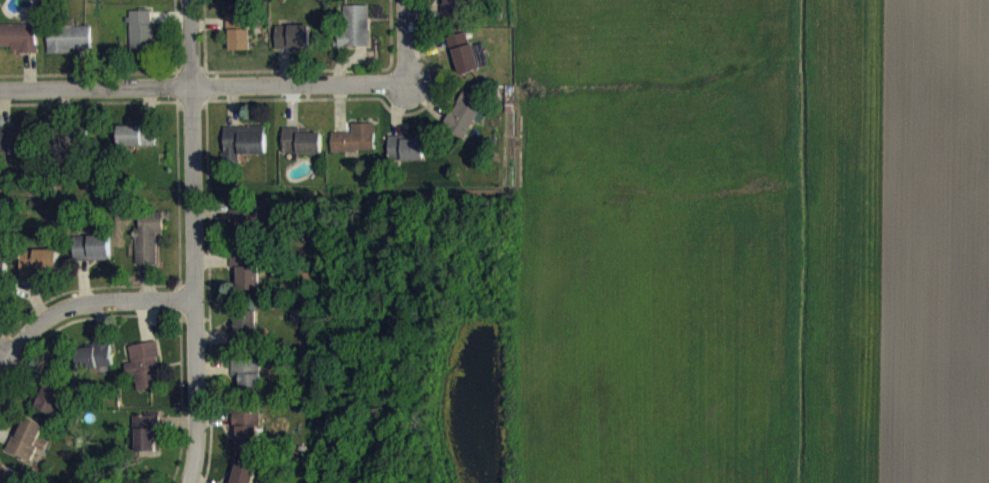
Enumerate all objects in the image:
building: (138, 1)
building: (350, 2)
building: (239, 3)
building: (455, 6)
building: (356, 38)
building: (140, 42)
road: (397, 43)
building: (238, 44)
building: (18, 48)
building: (69, 50)
building: (460, 50)
building: (468, 70)
road: (199, 91)
building: (462, 127)
building: (136, 146)
building: (246, 151)
building: (355, 151)
building: (302, 153)
building: (407, 159)
building: (245, 234)
road: (190, 241)
building: (148, 249)
building: (92, 259)
building: (38, 272)
building: (247, 282)
building: (4, 285)
road: (84, 303)
building: (95, 366)
building: (146, 376)
building: (247, 381)
building: (51, 410)
building: (147, 444)
building: (246, 447)
building: (27, 450)
building: (244, 479)

